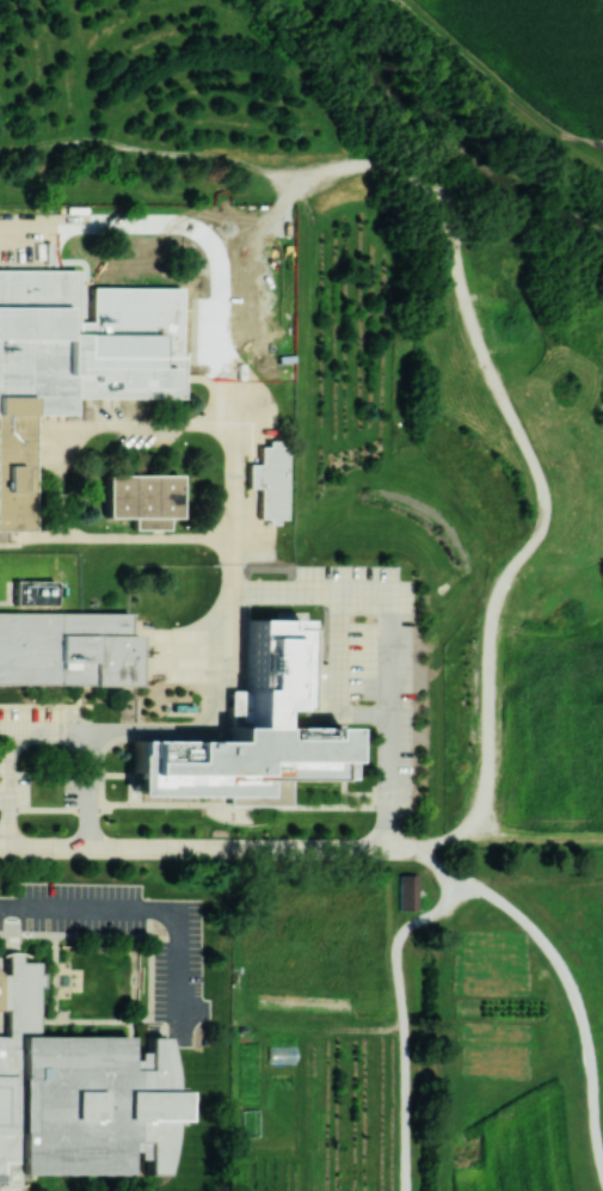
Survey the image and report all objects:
crop: (540, 50)
river: (443, 129)
building: (56, 375)
road: (233, 468)
building: (267, 480)
building: (141, 498)
building: (32, 593)
road: (5, 595)
building: (66, 649)
road: (176, 650)
road: (387, 663)
building: (242, 733)
road: (2, 744)
road: (241, 808)
road: (207, 846)
road: (439, 865)
building: (406, 891)
road: (149, 905)
crop: (309, 952)
road: (576, 997)
crop: (498, 1013)
road: (405, 1020)
building: (75, 1094)
crop: (318, 1112)
building: (250, 1122)
crop: (515, 1146)

